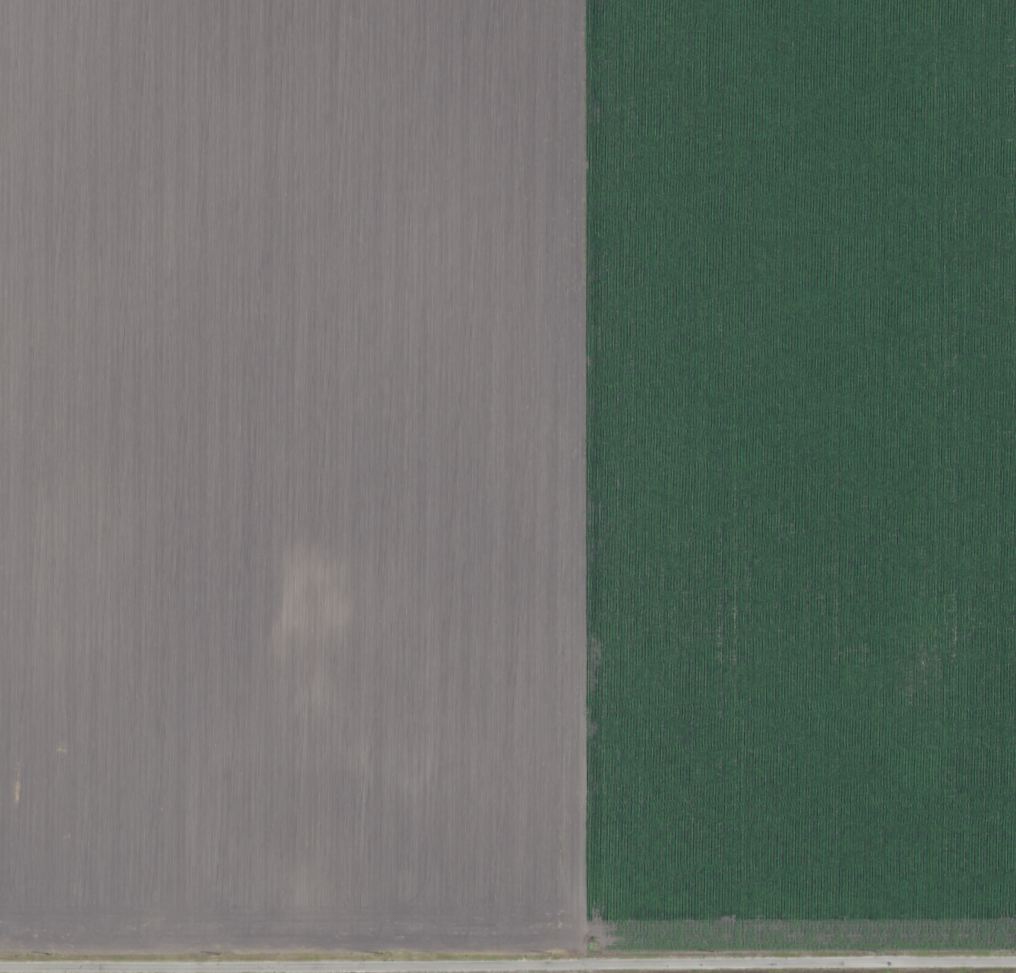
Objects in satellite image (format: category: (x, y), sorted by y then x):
road: (508, 965)

